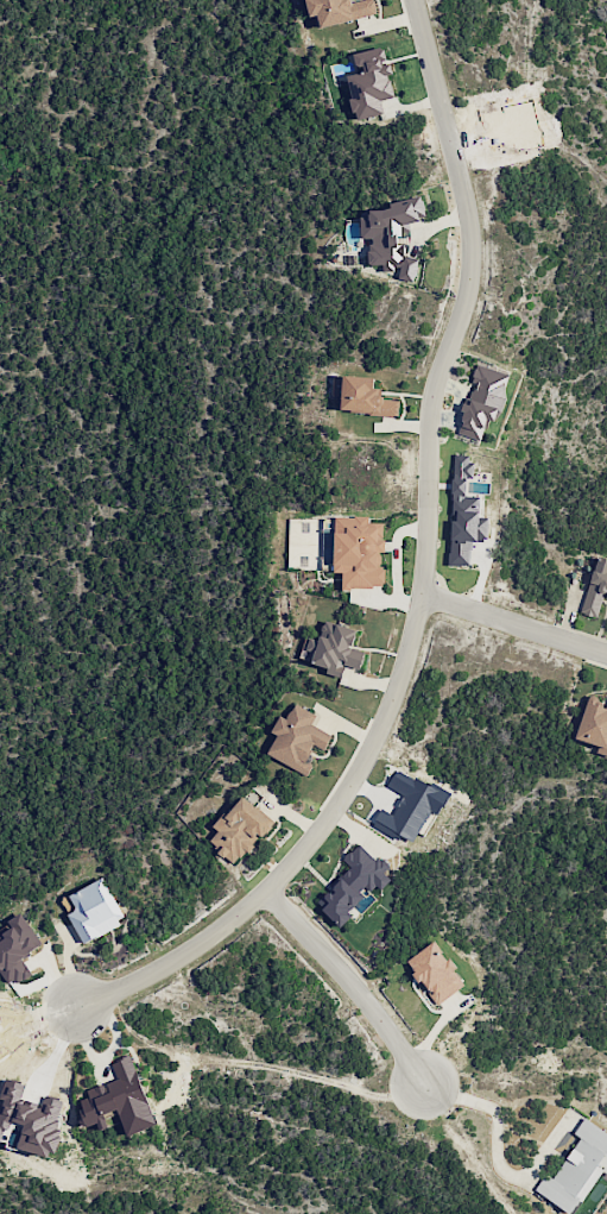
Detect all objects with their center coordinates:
building: (340, 10)
building: (369, 82)
building: (392, 235)
building: (365, 397)
building: (483, 401)
building: (464, 515)
building: (359, 551)
road: (423, 572)
building: (596, 587)
road: (514, 624)
building: (335, 648)
building: (593, 725)
building: (297, 738)
building: (410, 806)
building: (240, 829)
building: (354, 883)
building: (95, 910)
building: (17, 949)
building: (436, 971)
road: (349, 980)
building: (455, 1004)
building: (116, 1096)
road: (498, 1118)
building: (29, 1120)
building: (577, 1169)

